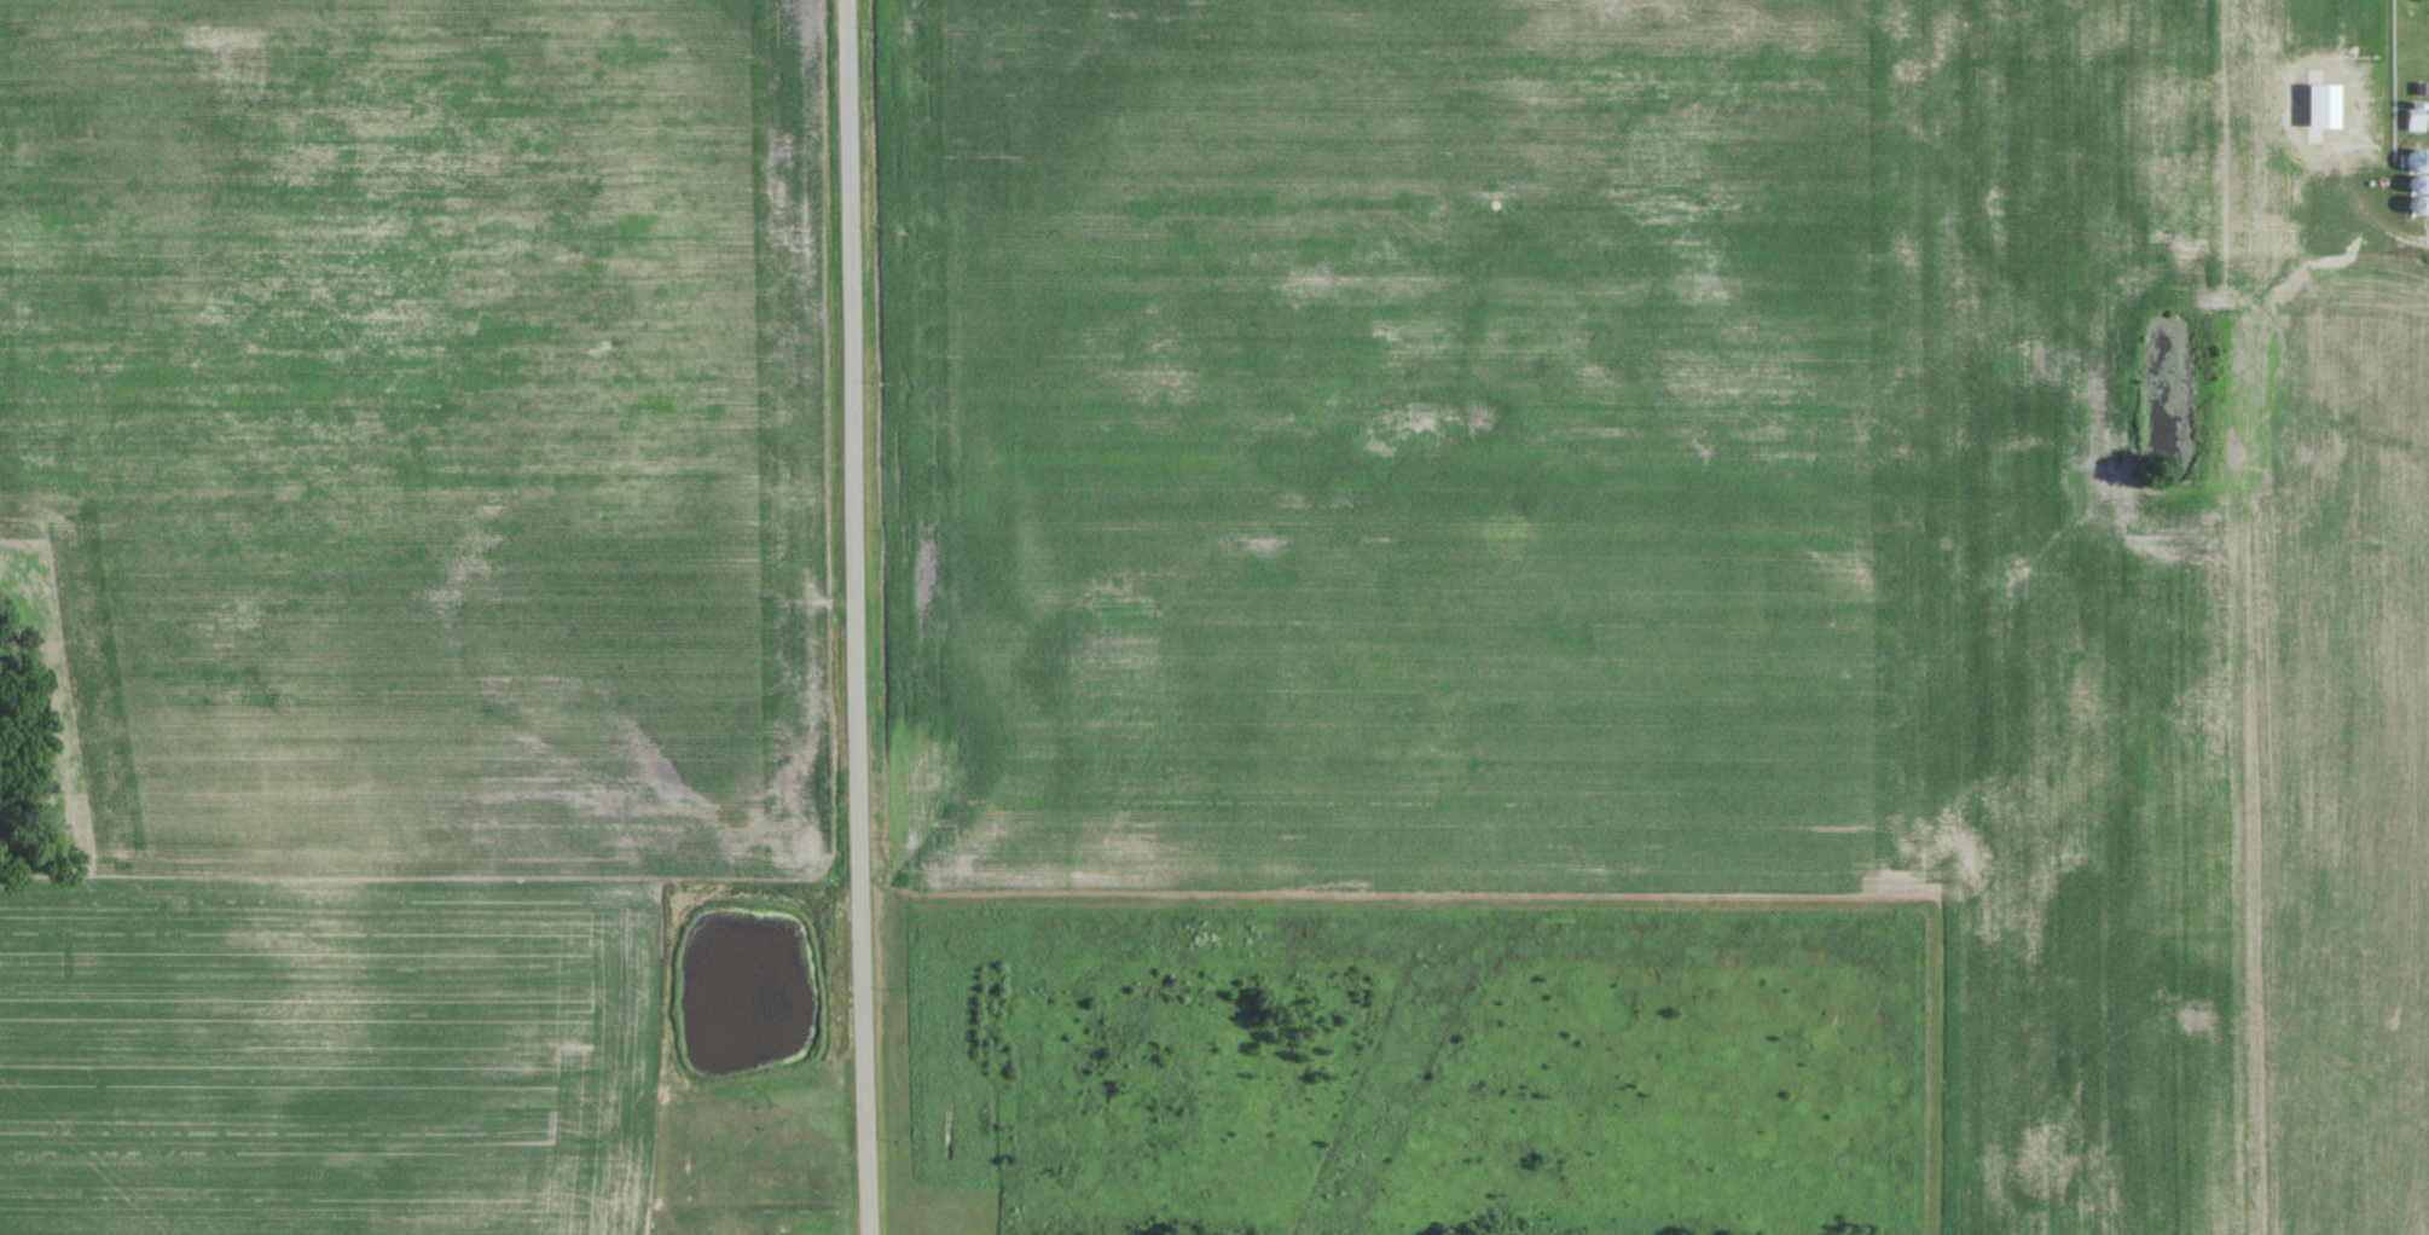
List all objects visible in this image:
building: (2414, 157)
road: (864, 617)
building: (801, 1234)

